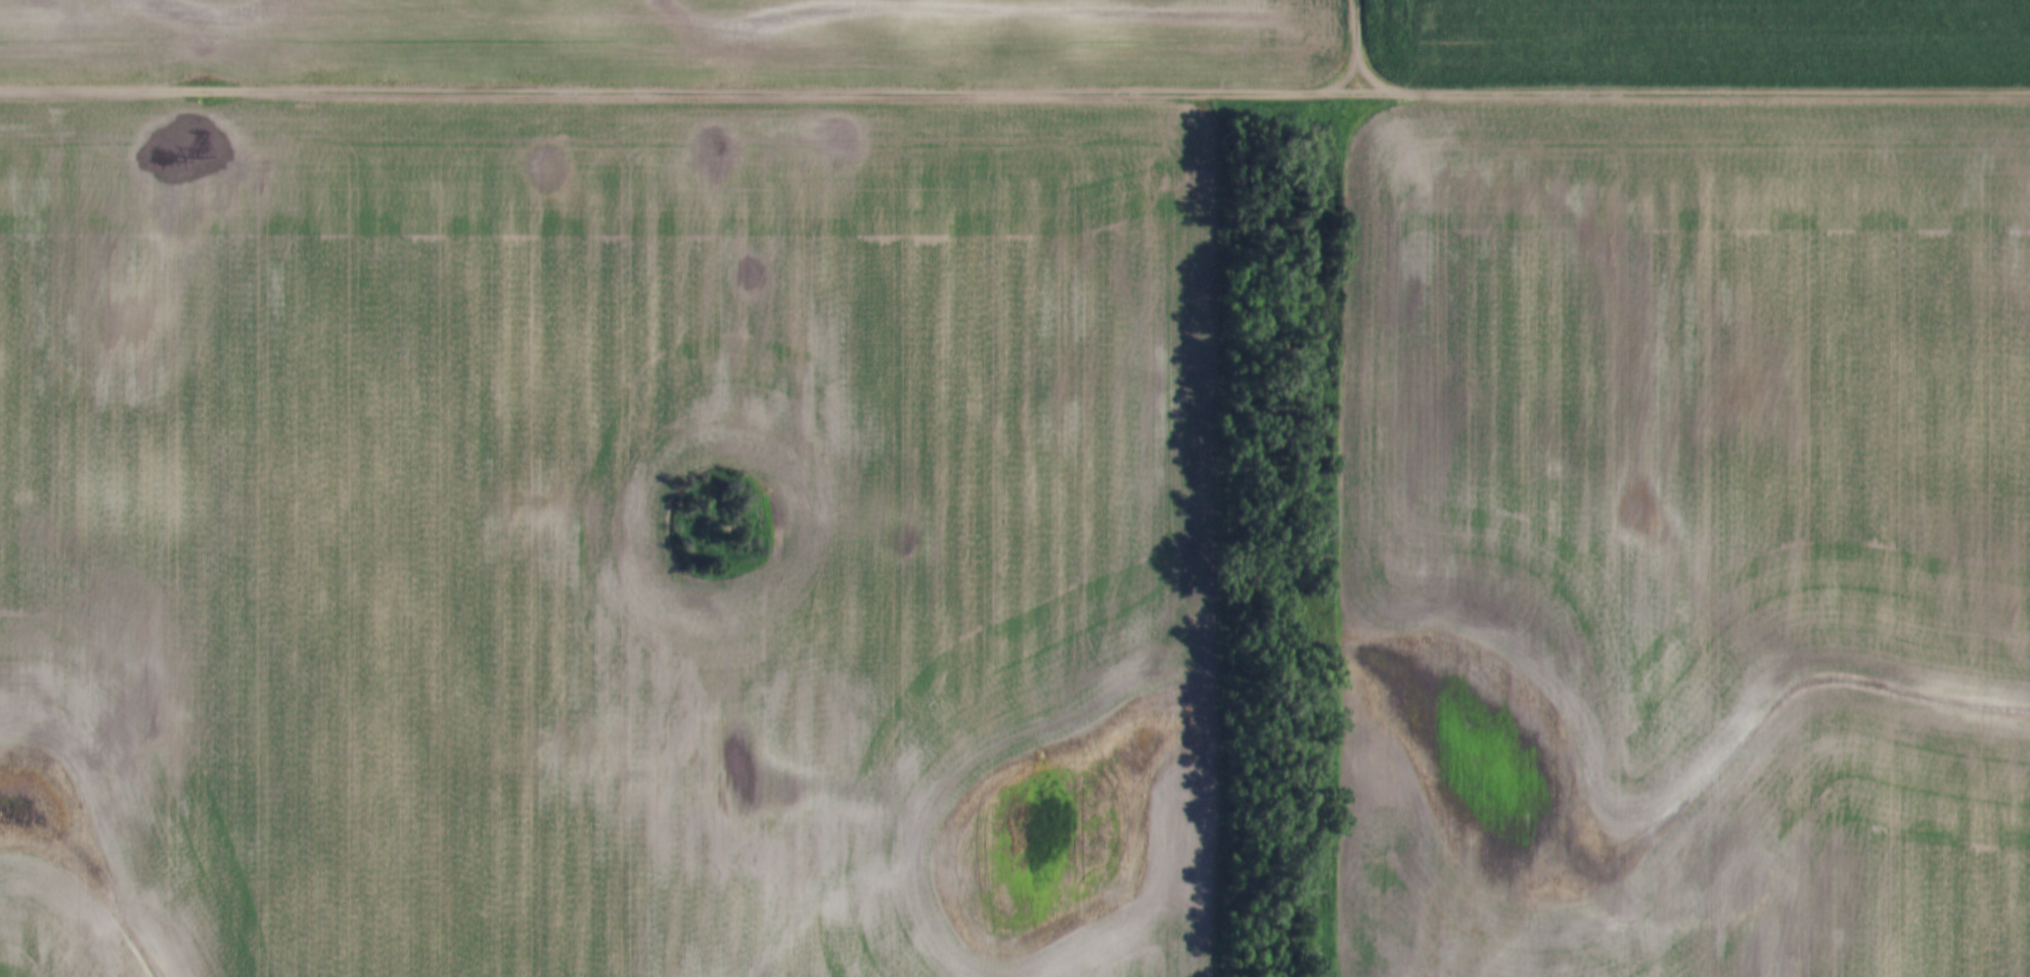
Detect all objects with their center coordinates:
road: (1357, 45)
road: (1015, 89)
road: (1219, 533)

